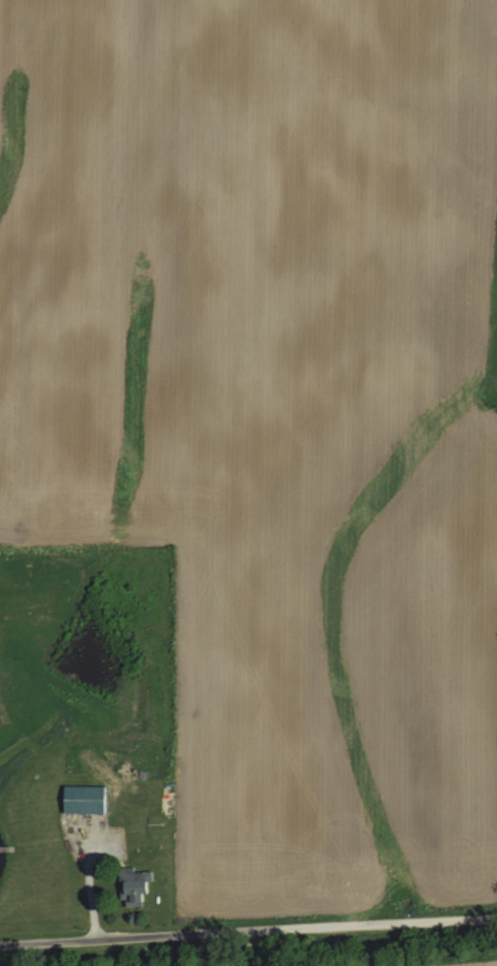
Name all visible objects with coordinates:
building: (90, 798)
road: (92, 875)
building: (129, 883)
road: (248, 929)

